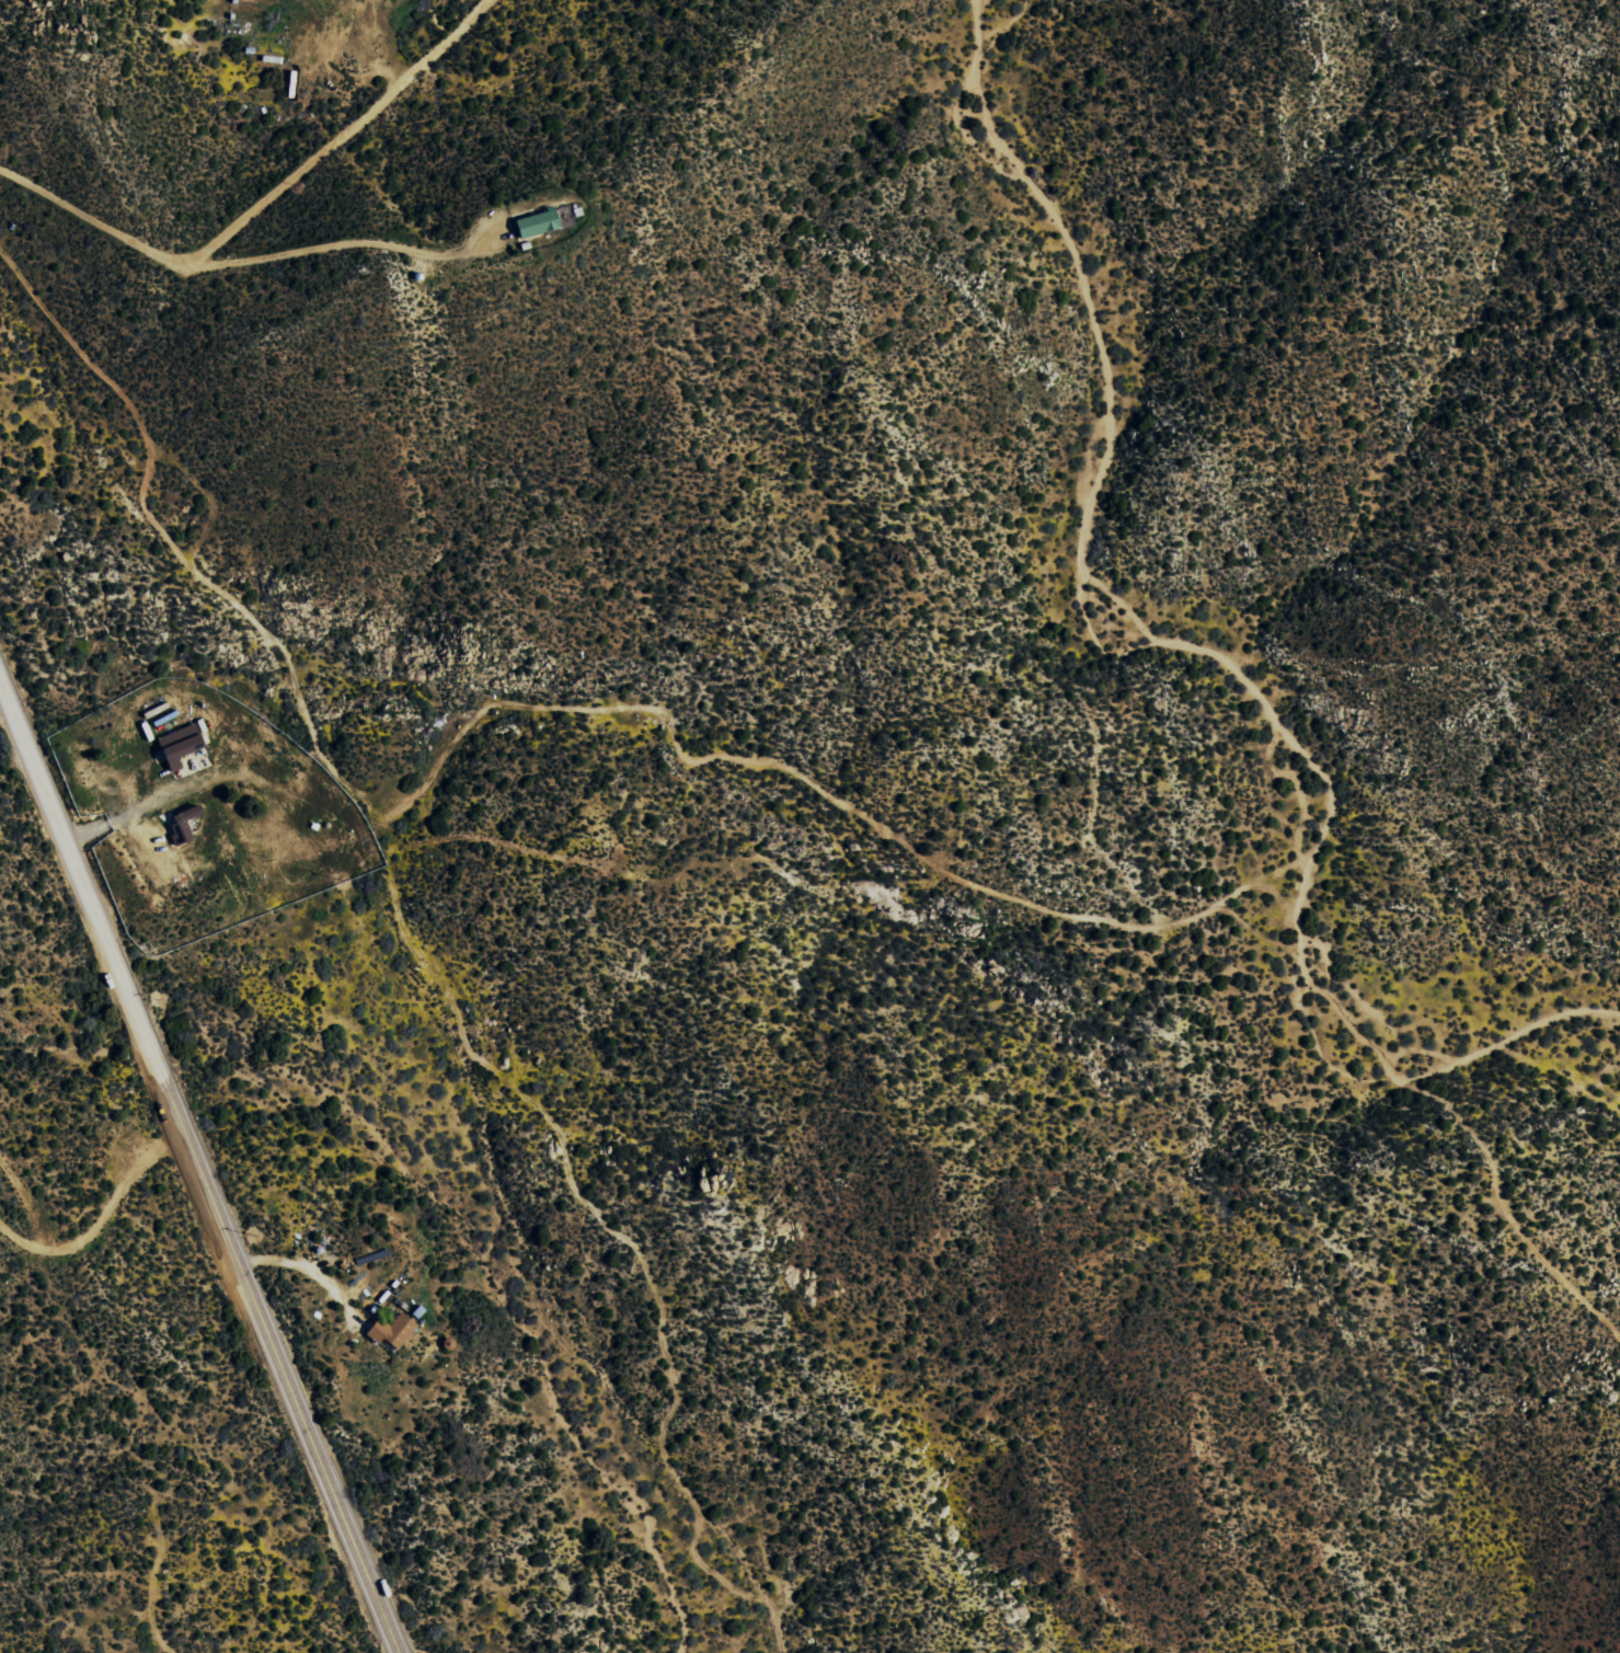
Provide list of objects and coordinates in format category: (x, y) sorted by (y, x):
road: (265, 206)
building: (539, 222)
building: (182, 744)
building: (184, 826)
road: (200, 1161)
building: (394, 1329)

